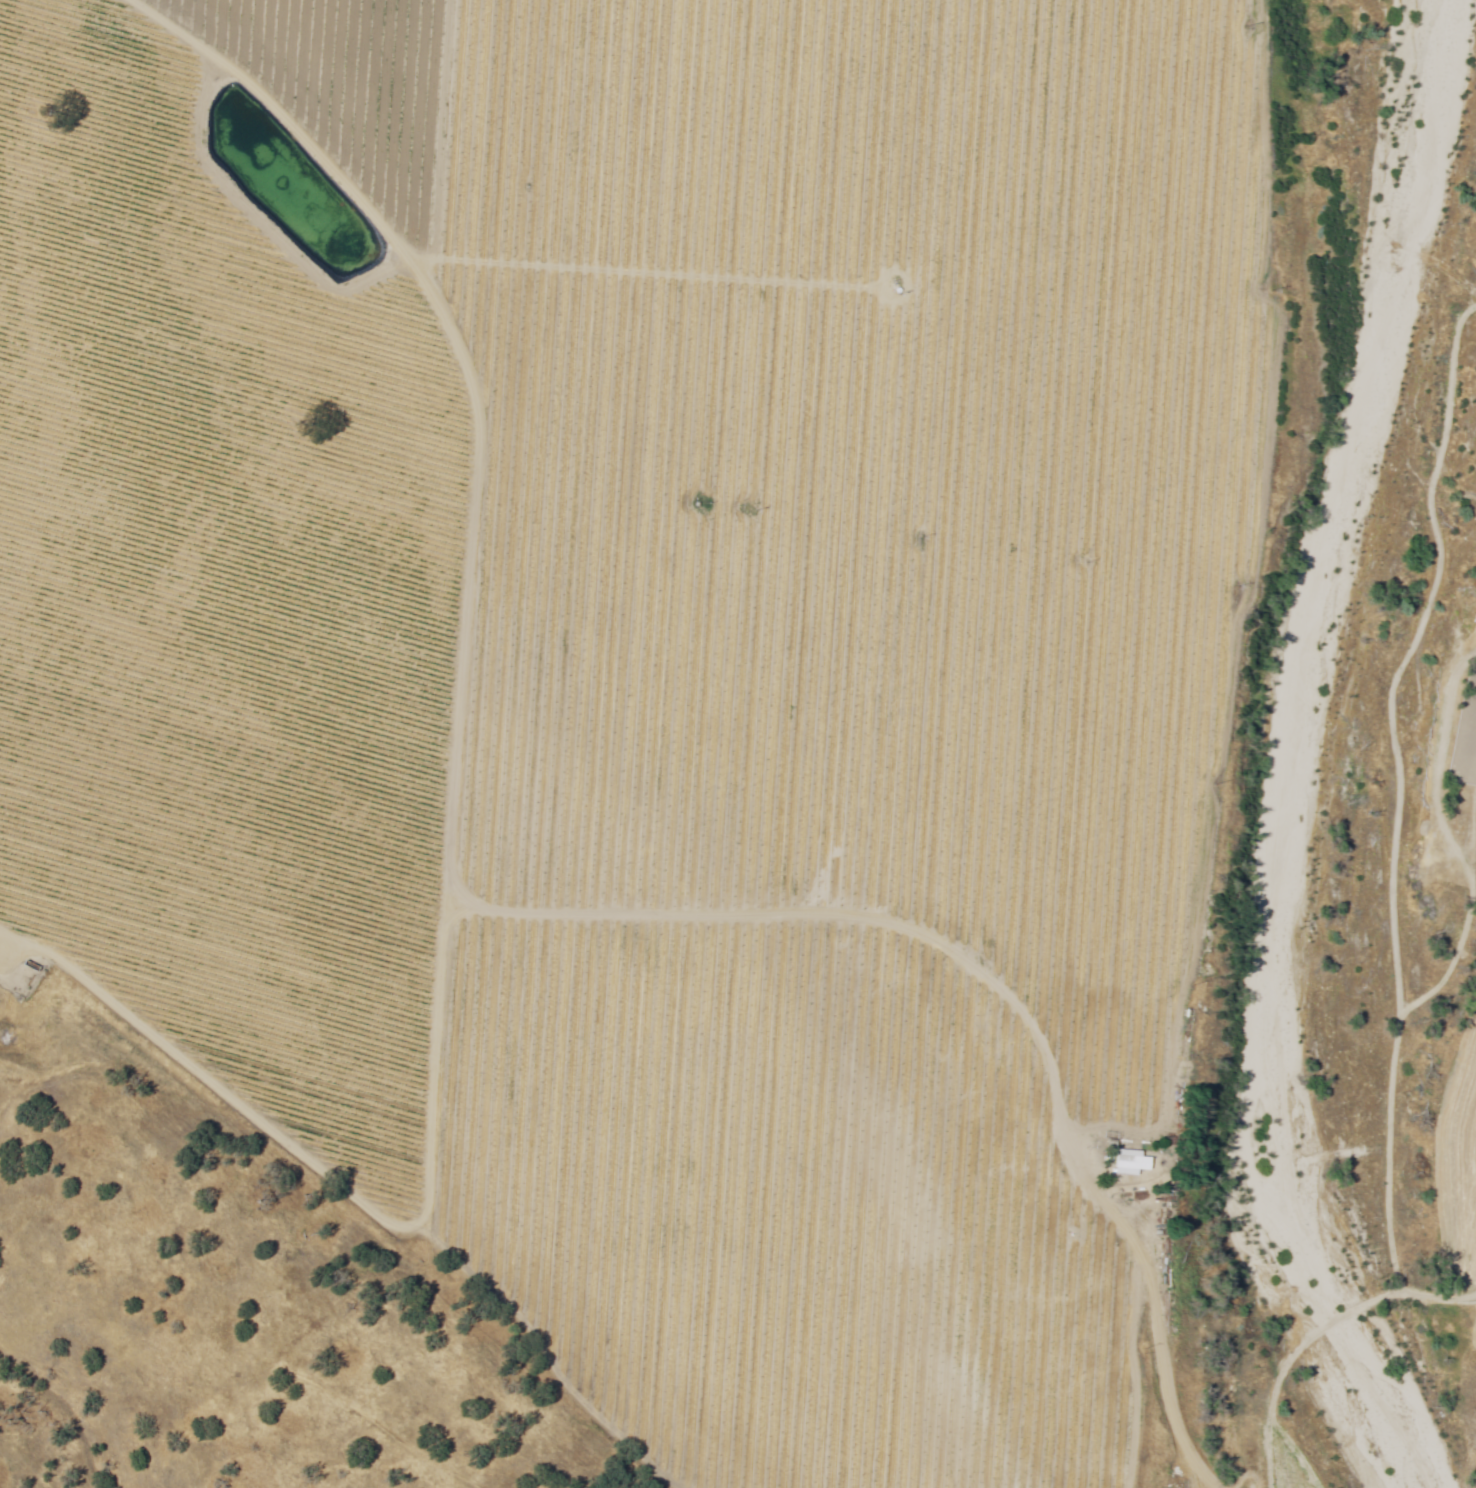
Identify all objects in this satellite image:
river: (1372, 244)
crop: (837, 440)
crop: (221, 607)
river: (1305, 997)
building: (1116, 1114)
building: (1134, 1163)
crop: (1460, 1167)
crop: (724, 1193)

